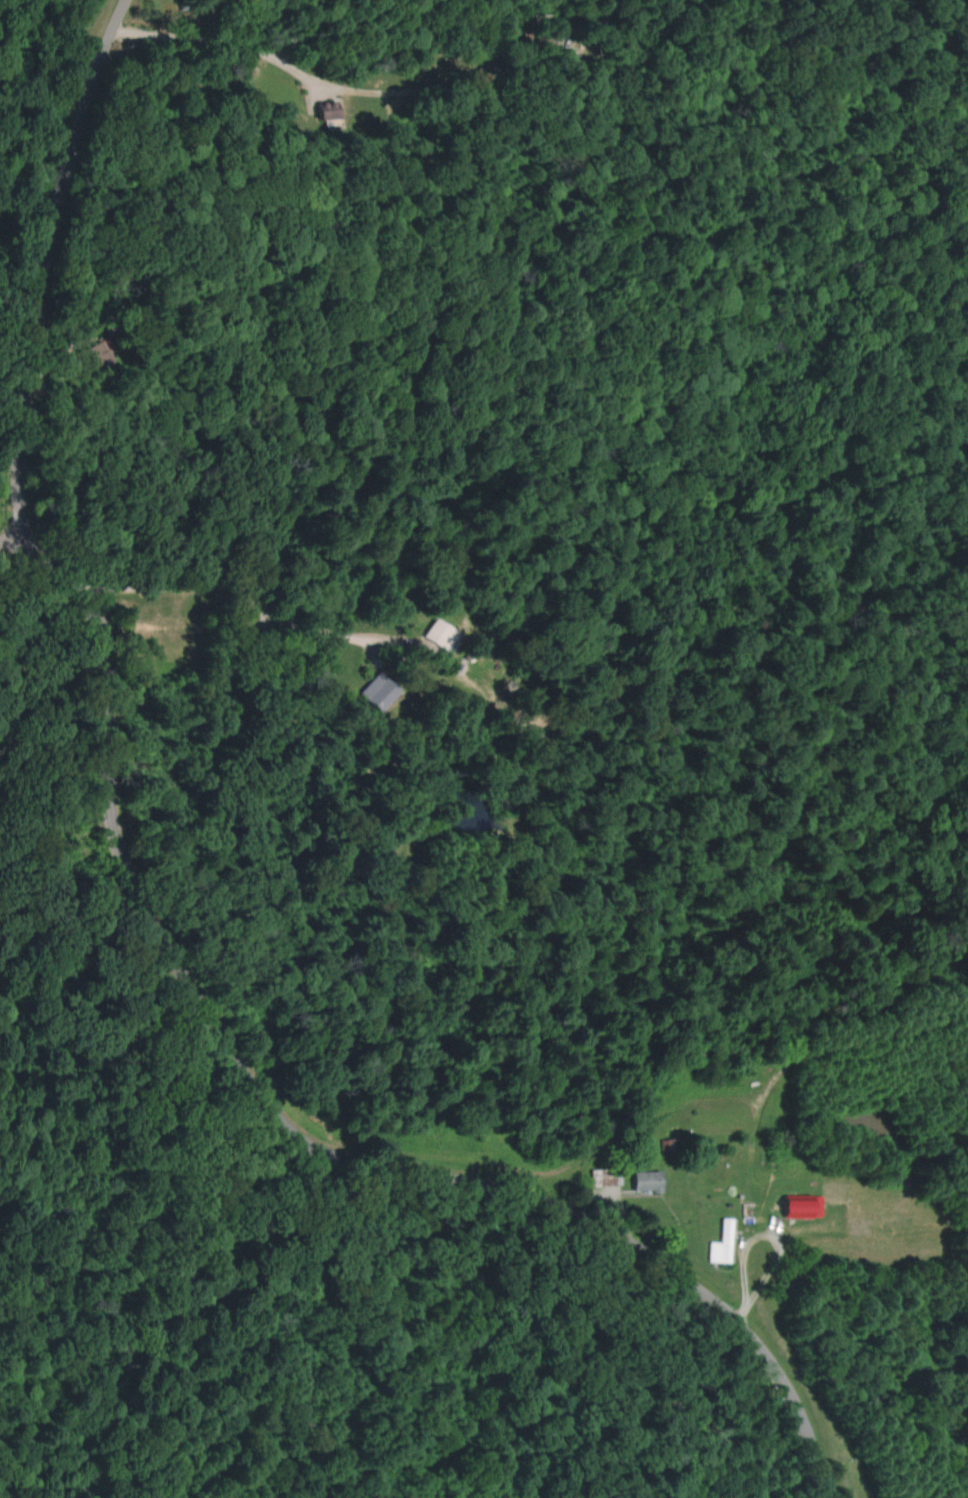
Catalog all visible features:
road: (213, 53)
building: (326, 113)
road: (42, 259)
building: (90, 354)
road: (5, 533)
building: (439, 635)
building: (376, 691)
road: (288, 1138)
building: (665, 1144)
building: (601, 1175)
building: (644, 1180)
building: (800, 1205)
building: (719, 1242)

